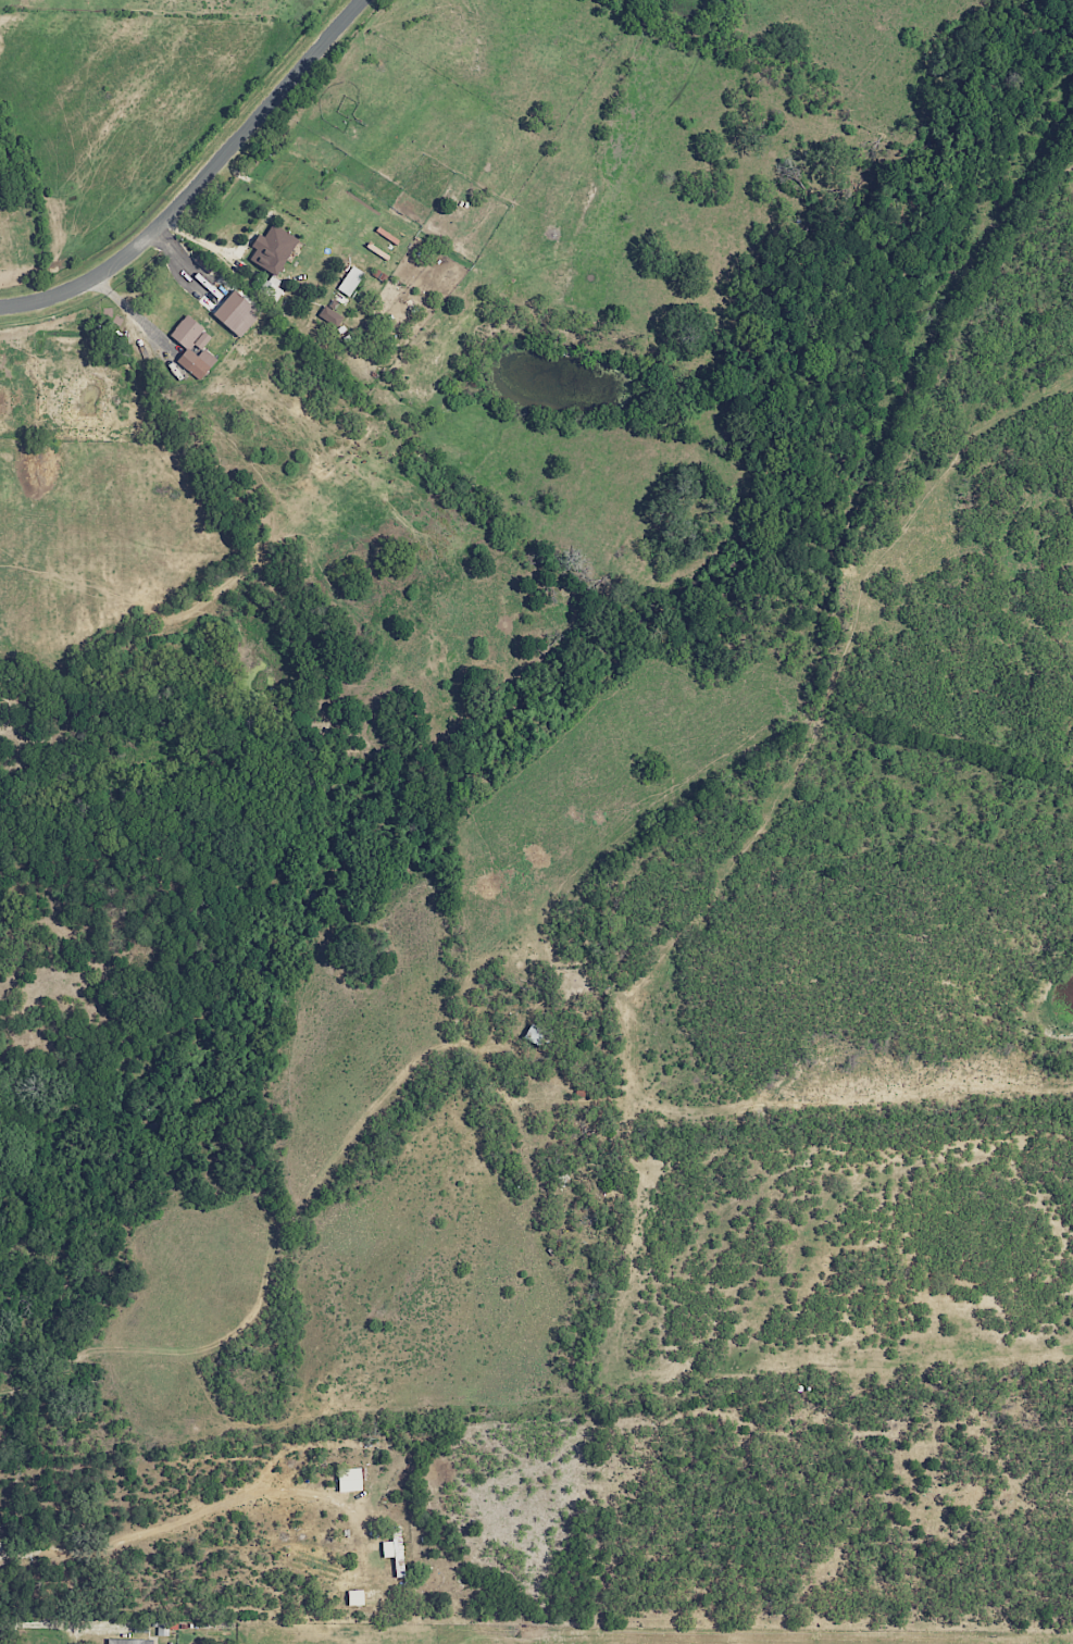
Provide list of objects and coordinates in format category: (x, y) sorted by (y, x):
road: (199, 182)
building: (273, 249)
building: (351, 281)
building: (236, 313)
building: (330, 316)
building: (194, 348)
road: (78, 1398)
building: (349, 1480)
road: (183, 1520)
building: (395, 1550)
building: (355, 1598)
road: (55, 1626)
building: (129, 1642)

